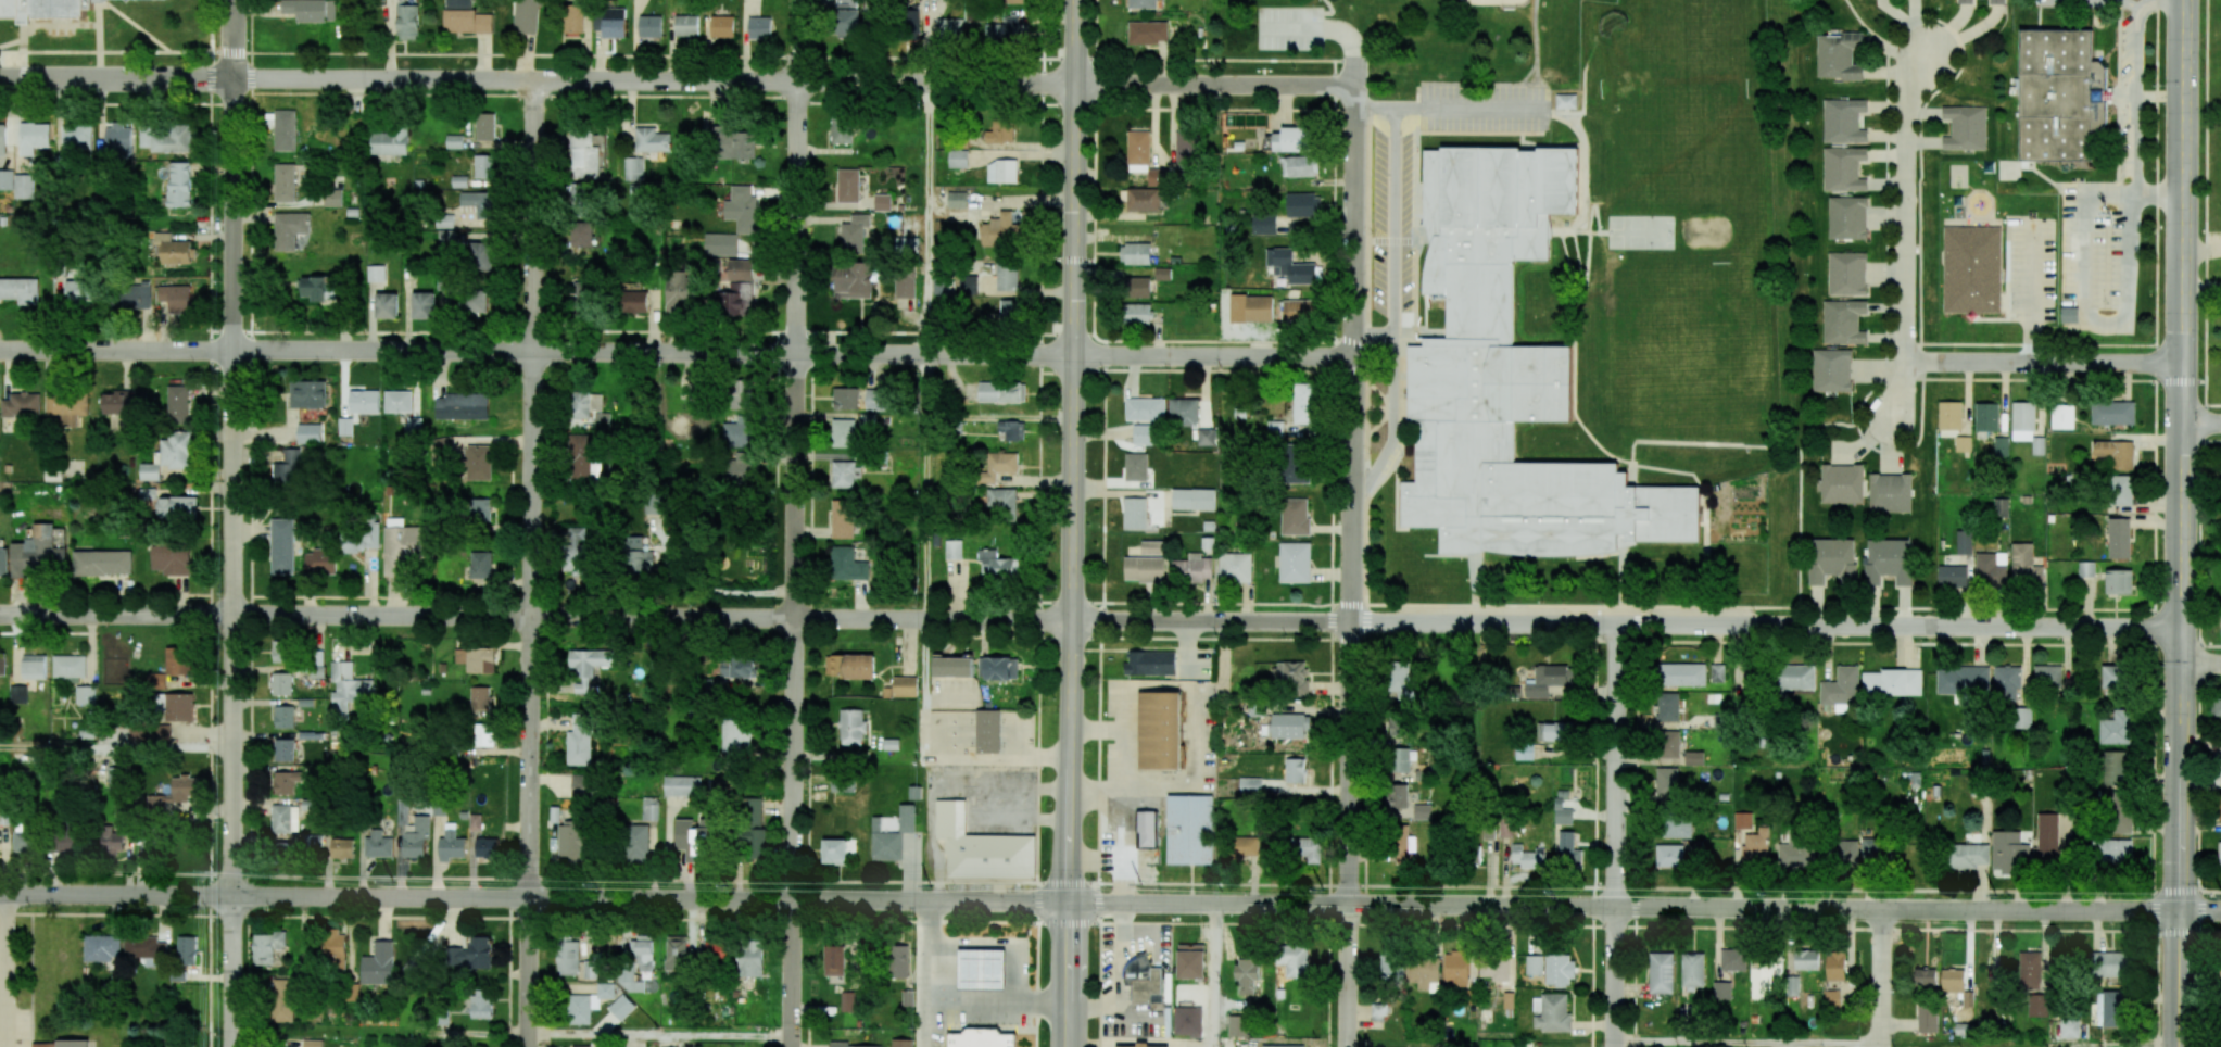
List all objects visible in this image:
road: (2100, 0)
building: (1009, 1)
park: (1450, 1)
building: (1965, 1)
building: (1996, 1)
building: (1141, 3)
building: (8, 8)
building: (59, 9)
building: (311, 10)
road: (1332, 10)
building: (526, 16)
building: (465, 17)
building: (573, 18)
building: (913, 21)
building: (407, 22)
building: (609, 22)
building: (847, 22)
road: (1865, 24)
building: (686, 25)
building: (649, 26)
building: (722, 26)
parking lot: (1288, 27)
road: (1332, 27)
building: (759, 28)
building: (949, 28)
road: (1953, 30)
building: (1007, 31)
building: (1147, 31)
park: (1389, 33)
road: (232, 37)
road: (104, 51)
road: (1535, 55)
building: (1839, 56)
road: (1198, 58)
road: (115, 75)
road: (654, 78)
road: (1214, 84)
road: (2140, 92)
road: (2140, 96)
building: (2059, 98)
building: (1566, 101)
road: (1197, 106)
road: (1447, 110)
building: (1843, 121)
building: (484, 126)
building: (1965, 127)
building: (841, 128)
road: (1094, 129)
building: (285, 130)
building: (1000, 130)
road: (1478, 133)
building: (34, 137)
building: (76, 138)
building: (165, 138)
building: (2, 139)
building: (118, 139)
building: (1292, 139)
building: (651, 140)
building: (389, 142)
building: (731, 143)
building: (1138, 147)
building: (1187, 147)
building: (585, 155)
building: (957, 159)
building: (1300, 165)
building: (483, 166)
building: (632, 168)
building: (1843, 169)
building: (1001, 171)
building: (1153, 175)
building: (5, 179)
building: (285, 182)
road: (2056, 182)
building: (179, 185)
building: (23, 186)
building: (848, 186)
building: (332, 198)
building: (957, 200)
building: (1144, 200)
building: (882, 202)
building: (478, 203)
road: (1906, 204)
building: (1303, 205)
building: (743, 210)
road: (926, 213)
building: (1846, 217)
building: (1264, 224)
building: (1002, 228)
building: (289, 229)
building: (854, 232)
building: (580, 234)
road: (1391, 240)
building: (720, 244)
building: (906, 244)
building: (173, 249)
road: (2200, 250)
building: (1135, 253)
building: (481, 256)
road: (1067, 260)
traffic signals: (1074, 261)
building: (1289, 266)
building: (740, 269)
building: (1971, 269)
building: (376, 273)
building: (1162, 273)
building: (1846, 274)
building: (1007, 276)
building: (853, 280)
building: (905, 283)
building: (939, 285)
building: (968, 285)
building: (317, 287)
building: (1137, 287)
road: (2200, 289)
building: (20, 290)
building: (77, 290)
building: (679, 292)
building: (131, 294)
road: (2084, 294)
road: (2033, 295)
building: (176, 298)
building: (737, 299)
building: (475, 301)
building: (634, 301)
road: (1414, 304)
building: (387, 305)
building: (422, 305)
building: (1250, 308)
building: (1299, 310)
building: (1009, 311)
road: (1396, 311)
building: (1137, 314)
building: (2069, 314)
building: (1843, 321)
road: (1374, 333)
road: (1236, 341)
road: (2036, 343)
road: (116, 346)
road: (653, 350)
road: (1213, 354)
road: (2043, 363)
road: (1185, 369)
building: (1831, 370)
road: (2064, 380)
traffic signals: (2181, 381)
building: (1513, 382)
building: (1001, 392)
road: (1900, 392)
building: (307, 394)
building: (743, 395)
building: (846, 398)
building: (875, 400)
building: (364, 401)
building: (397, 401)
building: (116, 402)
building: (1303, 403)
building: (22, 404)
building: (178, 404)
building: (584, 404)
building: (462, 406)
road: (1385, 406)
building: (66, 407)
road: (1385, 407)
building: (1145, 408)
building: (2112, 413)
building: (1949, 415)
building: (1986, 416)
building: (2061, 416)
building: (602, 419)
building: (868, 419)
building: (1189, 419)
building: (2022, 421)
road: (2200, 425)
building: (345, 426)
building: (414, 426)
building: (1012, 429)
building: (740, 432)
building: (843, 432)
building: (308, 433)
building: (1143, 434)
road: (1864, 441)
building: (444, 444)
building: (1963, 444)
building: (2037, 445)
building: (2001, 446)
building: (176, 450)
road: (795, 450)
building: (2112, 453)
road: (2180, 455)
building: (582, 459)
building: (478, 462)
building: (999, 465)
building: (1136, 466)
building: (151, 469)
building: (287, 469)
building: (1297, 470)
building: (735, 471)
building: (845, 474)
building: (1841, 483)
road: (232, 484)
road: (924, 484)
road: (531, 488)
building: (2120, 490)
building: (1890, 492)
road: (1352, 494)
building: (1194, 499)
road: (1802, 501)
building: (1004, 503)
building: (177, 507)
building: (2001, 507)
building: (480, 510)
building: (1135, 514)
building: (1295, 516)
road: (1365, 516)
building: (842, 518)
road: (2201, 522)
road: (1039, 523)
road: (1073, 523)
road: (2153, 523)
building: (361, 537)
building: (2119, 538)
building: (1964, 542)
building: (403, 543)
building: (282, 545)
building: (1153, 547)
building: (577, 548)
building: (954, 550)
building: (37, 552)
road: (1330, 553)
building: (639, 557)
building: (172, 559)
building: (1831, 560)
building: (3, 562)
building: (319, 562)
building: (1888, 562)
building: (102, 563)
building: (1295, 563)
building: (847, 564)
building: (998, 564)
building: (480, 565)
building: (2024, 566)
building: (1235, 567)
building: (1145, 568)
building: (1990, 568)
building: (1192, 569)
building: (2085, 569)
building: (1952, 576)
building: (2118, 581)
road: (1595, 605)
road: (116, 611)
road: (653, 614)
road: (1626, 623)
road: (1201, 638)
road: (1908, 645)
road: (1100, 648)
building: (280, 651)
building: (476, 659)
building: (177, 660)
building: (2, 665)
road: (2200, 665)
building: (68, 666)
building: (850, 666)
building: (34, 667)
building: (588, 667)
building: (737, 667)
building: (952, 667)
building: (1000, 668)
building: (1717, 672)
building: (1681, 674)
building: (2047, 676)
building: (1795, 677)
building: (1291, 678)
building: (2113, 679)
building: (156, 680)
building: (1399, 680)
building: (1545, 680)
building: (1961, 680)
building: (1891, 682)
building: (281, 683)
building: (2007, 683)
building: (904, 686)
building: (1841, 686)
building: (348, 688)
building: (18, 694)
building: (84, 694)
building: (479, 697)
building: (2218, 705)
building: (1667, 707)
road: (1192, 712)
building: (286, 716)
building: (164, 718)
building: (2022, 718)
building: (1289, 726)
building: (1396, 726)
building: (851, 727)
building: (2116, 728)
building: (1159, 730)
building: (987, 731)
building: (1553, 731)
building: (484, 734)
building: (735, 735)
building: (579, 741)
building: (1669, 744)
road: (116, 746)
building: (285, 749)
building: (1523, 752)
road: (929, 755)
building: (1694, 757)
building: (1401, 758)
road: (1616, 765)
building: (2115, 768)
building: (1295, 770)
building: (114, 778)
building: (287, 781)
building: (1666, 782)
building: (840, 784)
building: (582, 785)
building: (1250, 785)
building: (682, 786)
building: (2220, 795)
building: (177, 796)
building: (1397, 796)
road: (972, 799)
building: (649, 808)
building: (1421, 811)
building: (2121, 812)
building: (402, 813)
building: (1562, 813)
building: (3, 816)
building: (285, 818)
building: (1742, 820)
building: (753, 825)
road: (1636, 825)
building: (1677, 827)
building: (1147, 829)
building: (1189, 829)
building: (892, 835)
building: (23, 836)
building: (416, 837)
building: (2046, 837)
building: (112, 838)
building: (572, 841)
building: (694, 841)
building: (64, 843)
building: (636, 843)
building: (378, 844)
building: (452, 844)
road: (1594, 844)
building: (1403, 845)
building: (1755, 845)
building: (342, 847)
building: (487, 847)
building: (982, 847)
building: (1245, 847)
building: (1307, 848)
building: (1872, 848)
building: (834, 850)
building: (1568, 850)
building: (2009, 850)
building: (2111, 850)
building: (1837, 852)
building: (2219, 853)
building: (1669, 855)
building: (1793, 855)
building: (1967, 856)
building: (1527, 857)
power tower: (214, 871)
power tower: (392, 882)
power tower: (1140, 884)
power tower: (603, 885)
power tower: (732, 885)
power tower: (931, 886)
road: (1628, 886)
power tower: (1322, 890)
power tower: (1555, 892)
power tower: (1768, 894)
road: (115, 895)
power tower: (1995, 895)
road: (651, 899)
traffic signals: (1071, 903)
road: (1624, 908)
road: (2199, 911)
traffic signals: (2179, 912)
road: (1628, 926)
building: (267, 946)
road: (996, 947)
building: (102, 948)
building: (147, 950)
building: (333, 950)
building: (472, 953)
building: (642, 953)
building: (676, 953)
building: (717, 953)
building: (185, 955)
building: (568, 958)
building: (750, 958)
building: (1732, 959)
building: (1806, 959)
building: (834, 960)
building: (1294, 960)
building: (898, 961)
building: (1190, 961)
building: (378, 964)
building: (1534, 964)
building: (2110, 964)
building: (1834, 966)
building: (1392, 968)
building: (1456, 968)
building: (1494, 968)
building: (593, 969)
building: (981, 969)
building: (1559, 969)
building: (2030, 969)
road: (7, 971)
road: (232, 971)
building: (1423, 971)
building: (1693, 971)
building: (1661, 972)
road: (529, 973)
road: (793, 973)
road: (923, 973)
building: (1247, 974)
building: (1763, 974)
road: (1213, 975)
road: (1350, 976)
building: (1925, 976)
road: (1615, 977)
building: (629, 979)
road: (1882, 979)
road: (2178, 979)
building: (1144, 980)
building: (1952, 981)
building: (1721, 991)
building: (1967, 998)
building: (283, 999)
building: (849, 1001)
road: (996, 1002)
building: (481, 1004)
building: (588, 1004)
building: (2037, 1005)
building: (621, 1007)
building: (2111, 1008)
building: (1378, 1011)
building: (1550, 1012)
building: (1927, 1018)
building: (1187, 1021)
building: (1237, 1025)
building: (2069, 1029)
road: (660, 1035)
building: (980, 1038)
building: (73, 1043)
building: (313, 1043)
building: (901, 1043)
road: (1747, 1043)
building: (174, 1044)
building: (42, 1045)
building: (580, 1045)
building: (845, 1045)
building: (1138, 1046)

